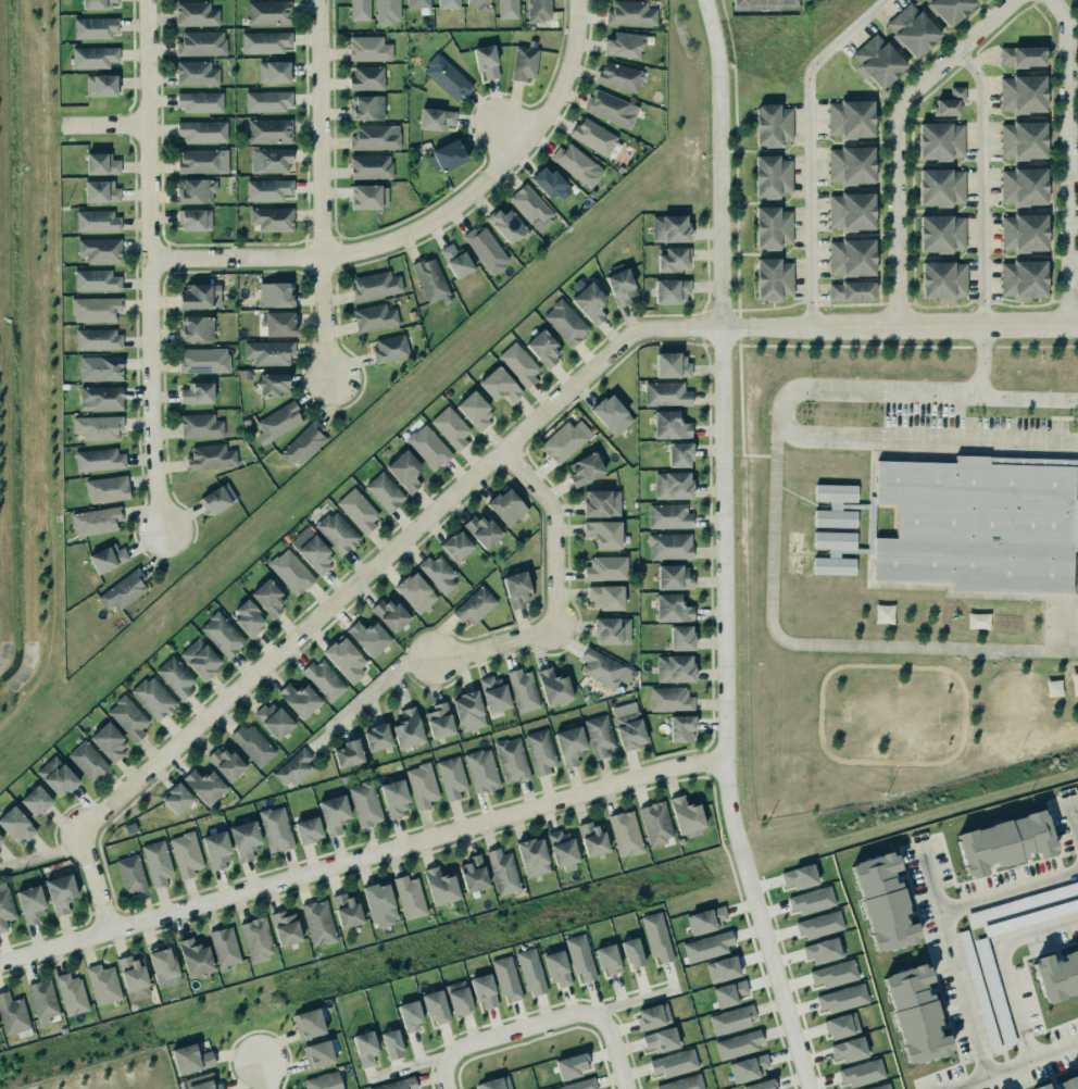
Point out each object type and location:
road: (1076, 1)
building: (414, 2)
building: (444, 2)
building: (761, 3)
building: (97, 4)
building: (476, 4)
park: (1073, 5)
building: (506, 9)
building: (948, 9)
building: (360, 10)
building: (388, 11)
building: (539, 11)
building: (268, 13)
building: (196, 14)
building: (630, 14)
building: (93, 26)
building: (911, 30)
building: (265, 41)
building: (201, 43)
building: (624, 45)
building: (368, 49)
road: (955, 53)
building: (91, 57)
building: (1021, 57)
building: (485, 60)
building: (876, 60)
building: (522, 62)
building: (273, 71)
building: (197, 73)
building: (617, 73)
road: (732, 74)
building: (444, 76)
building: (366, 77)
building: (100, 85)
building: (1020, 93)
building: (268, 100)
building: (199, 101)
building: (948, 102)
building: (609, 104)
building: (365, 107)
building: (436, 118)
building: (850, 118)
road: (103, 125)
building: (770, 125)
building: (202, 130)
building: (269, 130)
building: (591, 136)
building: (375, 137)
building: (939, 140)
building: (1021, 140)
road: (810, 146)
building: (447, 155)
building: (100, 159)
road: (1067, 159)
building: (271, 160)
building: (203, 161)
building: (576, 164)
building: (849, 165)
building: (371, 166)
building: (770, 172)
building: (546, 183)
road: (981, 183)
building: (1021, 186)
building: (939, 187)
building: (267, 189)
building: (193, 190)
building: (99, 191)
road: (321, 191)
building: (365, 191)
building: (531, 208)
building: (849, 211)
road: (895, 216)
building: (271, 217)
building: (196, 220)
building: (97, 221)
road: (426, 222)
building: (506, 226)
building: (667, 228)
building: (772, 228)
building: (940, 234)
building: (1023, 234)
building: (98, 249)
building: (486, 249)
building: (850, 256)
building: (673, 260)
building: (454, 261)
road: (149, 264)
building: (1023, 278)
building: (772, 279)
building: (942, 279)
building: (96, 280)
building: (431, 280)
building: (376, 285)
building: (619, 285)
building: (669, 290)
building: (850, 290)
building: (275, 293)
building: (193, 296)
building: (589, 302)
road: (45, 304)
building: (95, 309)
building: (375, 317)
building: (564, 322)
building: (195, 323)
building: (279, 324)
road: (860, 325)
building: (98, 339)
building: (542, 348)
building: (390, 349)
building: (267, 351)
building: (204, 360)
building: (519, 364)
building: (672, 365)
building: (100, 368)
building: (272, 384)
building: (499, 385)
building: (196, 391)
building: (665, 393)
building: (100, 398)
road: (1027, 398)
building: (473, 411)
building: (611, 414)
building: (277, 420)
building: (669, 425)
building: (200, 426)
building: (96, 427)
building: (451, 427)
road: (785, 427)
building: (563, 440)
building: (301, 442)
building: (427, 447)
building: (677, 454)
building: (211, 456)
building: (99, 460)
building: (582, 470)
building: (403, 471)
building: (673, 485)
building: (106, 489)
building: (383, 491)
building: (217, 498)
building: (601, 503)
building: (835, 505)
building: (504, 508)
building: (355, 510)
building: (669, 516)
building: (95, 520)
building: (977, 524)
building: (482, 530)
building: (337, 531)
building: (603, 534)
building: (456, 546)
building: (669, 546)
road: (723, 549)
building: (312, 551)
building: (833, 552)
building: (105, 558)
building: (604, 567)
building: (289, 569)
building: (437, 573)
building: (673, 577)
building: (515, 589)
building: (123, 590)
road: (556, 591)
building: (413, 593)
building: (606, 597)
building: (266, 598)
building: (475, 605)
building: (669, 609)
road: (325, 613)
building: (389, 615)
building: (248, 617)
building: (365, 630)
building: (612, 630)
building: (222, 635)
building: (679, 638)
road: (818, 647)
building: (200, 659)
building: (343, 659)
building: (604, 668)
building: (674, 668)
road: (38, 671)
building: (174, 677)
building: (322, 679)
road: (378, 686)
building: (552, 687)
building: (522, 689)
building: (494, 693)
building: (153, 698)
building: (670, 699)
building: (299, 700)
building: (468, 711)
building: (128, 718)
building: (272, 721)
building: (438, 722)
building: (628, 726)
building: (681, 728)
building: (408, 729)
building: (599, 735)
building: (376, 738)
building: (105, 742)
building: (253, 744)
building: (568, 746)
building: (541, 751)
building: (348, 753)
building: (511, 760)
building: (87, 761)
building: (226, 763)
building: (293, 768)
building: (481, 771)
building: (54, 777)
building: (450, 777)
building: (202, 786)
building: (422, 786)
building: (394, 798)
building: (175, 799)
building: (33, 802)
building: (365, 803)
building: (334, 814)
building: (687, 816)
building: (656, 823)
building: (14, 826)
building: (276, 829)
building: (308, 830)
building: (625, 834)
building: (1004, 838)
building: (0, 839)
building: (592, 839)
building: (245, 840)
building: (560, 846)
building: (214, 850)
building: (186, 854)
road: (43, 856)
building: (532, 856)
road: (362, 860)
building: (156, 862)
building: (501, 869)
building: (129, 873)
building: (474, 874)
building: (799, 874)
building: (440, 887)
road: (1007, 891)
building: (60, 893)
building: (410, 897)
building: (880, 898)
building: (377, 899)
building: (811, 900)
building: (30, 904)
building: (4, 905)
building: (344, 907)
building: (704, 917)
building: (318, 923)
building: (818, 925)
building: (286, 928)
building: (656, 936)
building: (256, 938)
building: (707, 946)
building: (224, 947)
building: (631, 950)
building: (823, 950)
building: (580, 956)
building: (606, 956)
building: (195, 957)
building: (163, 965)
building: (556, 966)
building: (722, 966)
road: (954, 966)
building: (529, 969)
building: (832, 972)
building: (1055, 972)
building: (131, 975)
building: (506, 979)
road: (1006, 980)
building: (103, 984)
building: (484, 990)
building: (995, 990)
building: (728, 991)
building: (72, 993)
building: (41, 997)
building: (457, 997)
building: (841, 998)
road: (636, 1001)
building: (434, 1004)
building: (913, 1011)
building: (409, 1013)
building: (13, 1014)
building: (653, 1016)
road: (556, 1019)
building: (731, 1019)
building: (306, 1022)
building: (842, 1025)
building: (660, 1038)
building: (389, 1041)
building: (739, 1044)
building: (365, 1048)
building: (848, 1048)
building: (315, 1052)
building: (189, 1056)
building: (673, 1061)
building: (569, 1064)
building: (748, 1066)
road: (406, 1067)
building: (861, 1071)
road: (990, 1073)
road: (444, 1075)
road: (263, 1076)
building: (322, 1080)
building: (200, 1081)
building: (493, 1082)
building: (684, 1082)
building: (1058, 1082)
building: (396, 1084)
building: (760, 1084)
building: (577, 1085)
building: (877, 1086)

